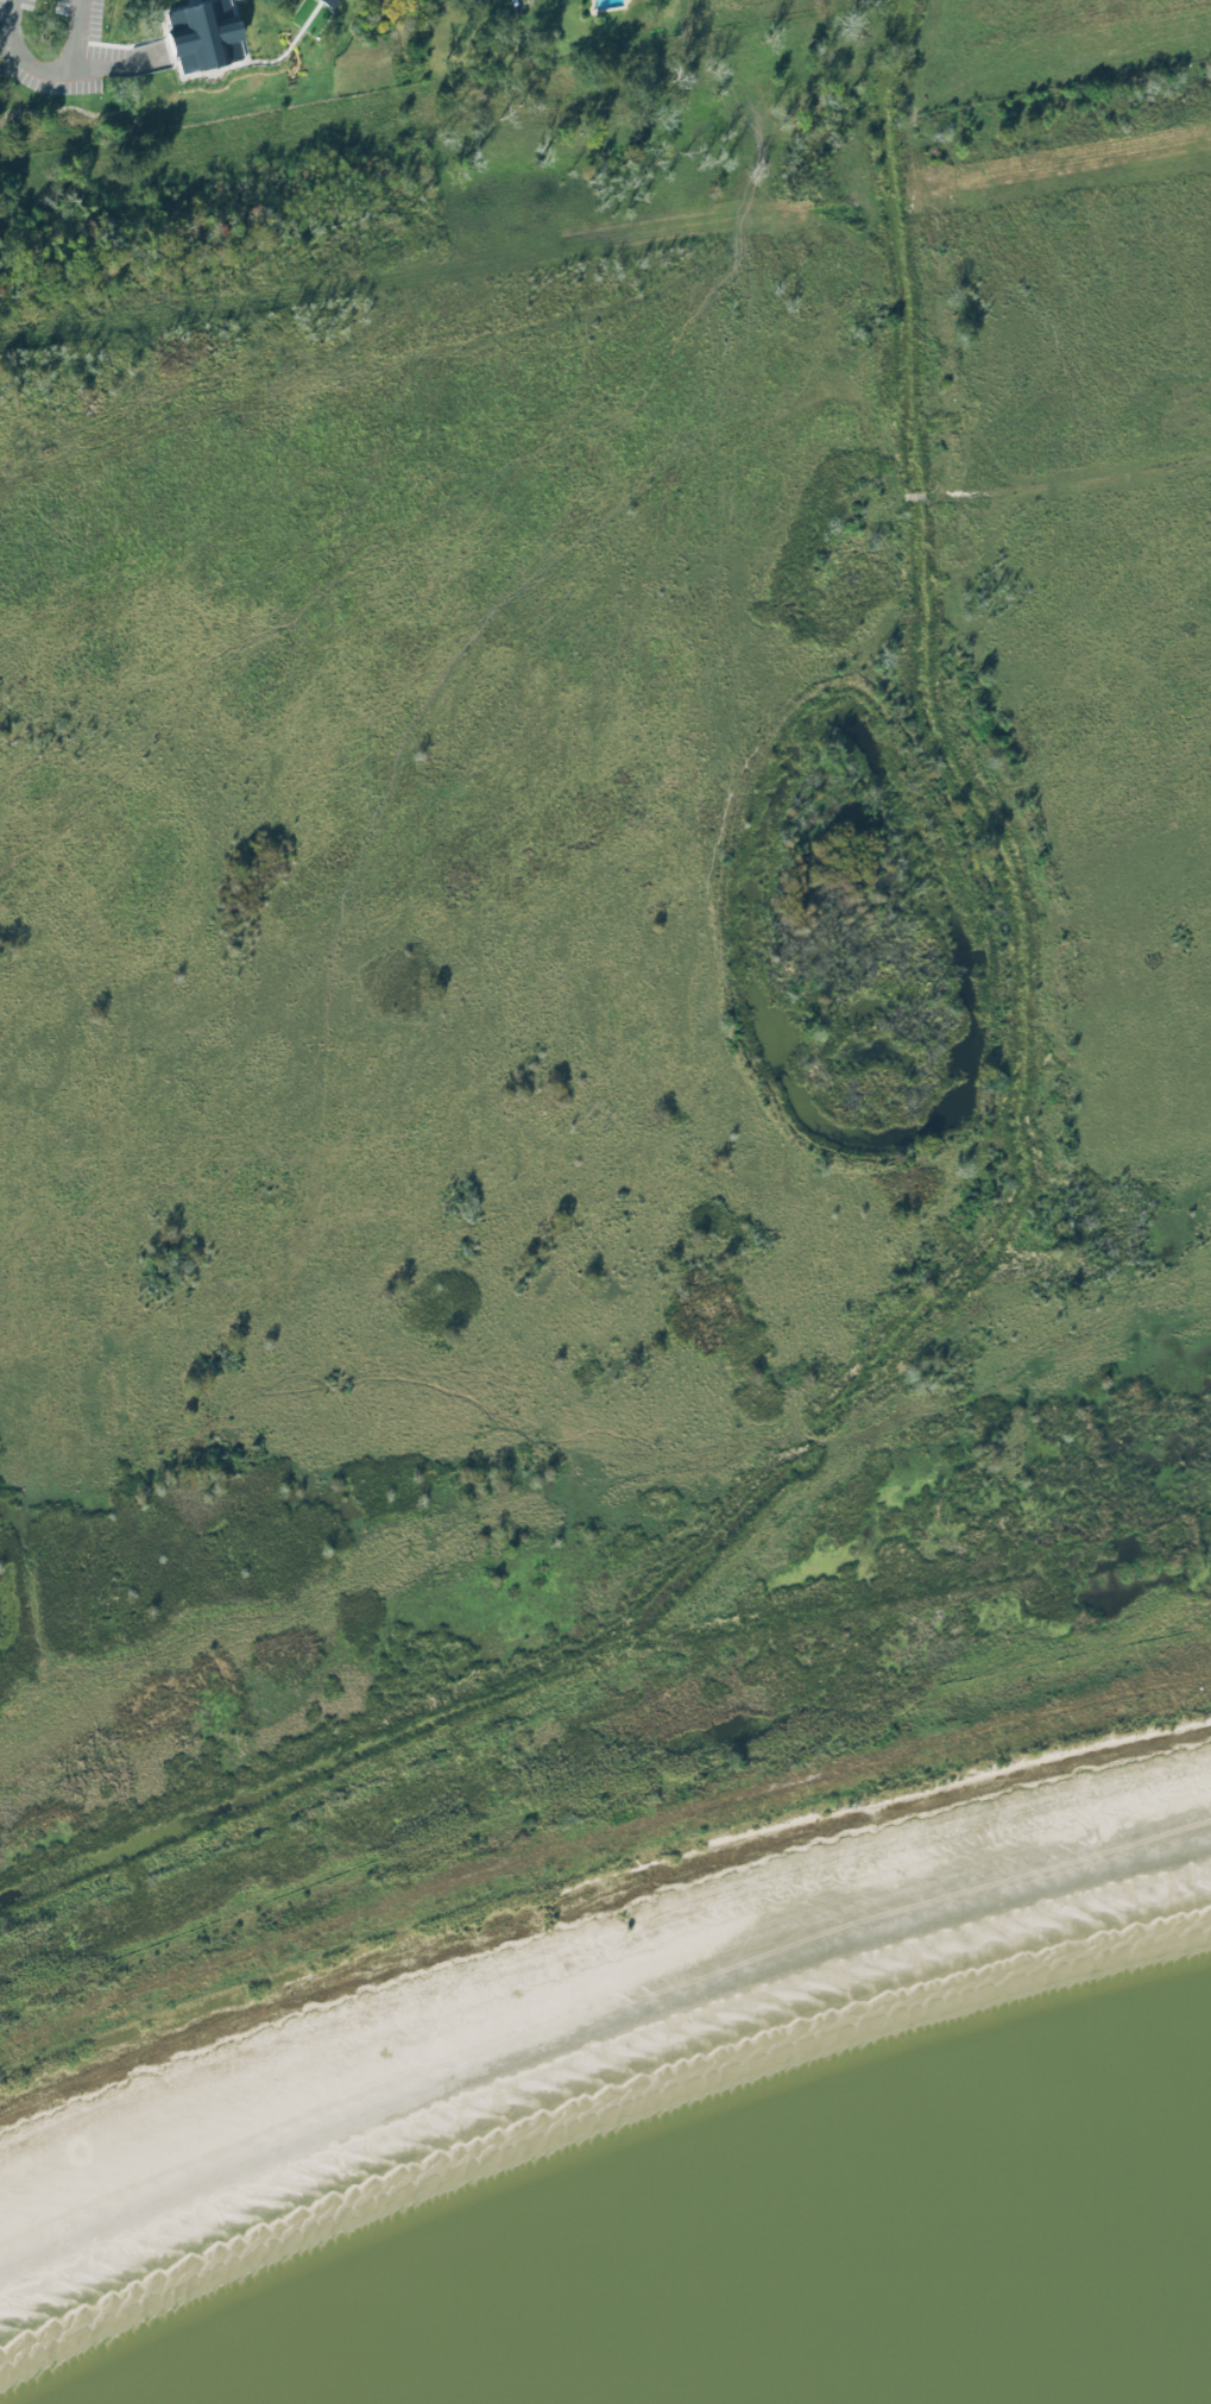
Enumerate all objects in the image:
building: (202, 36)
road: (94, 65)
road: (46, 73)

